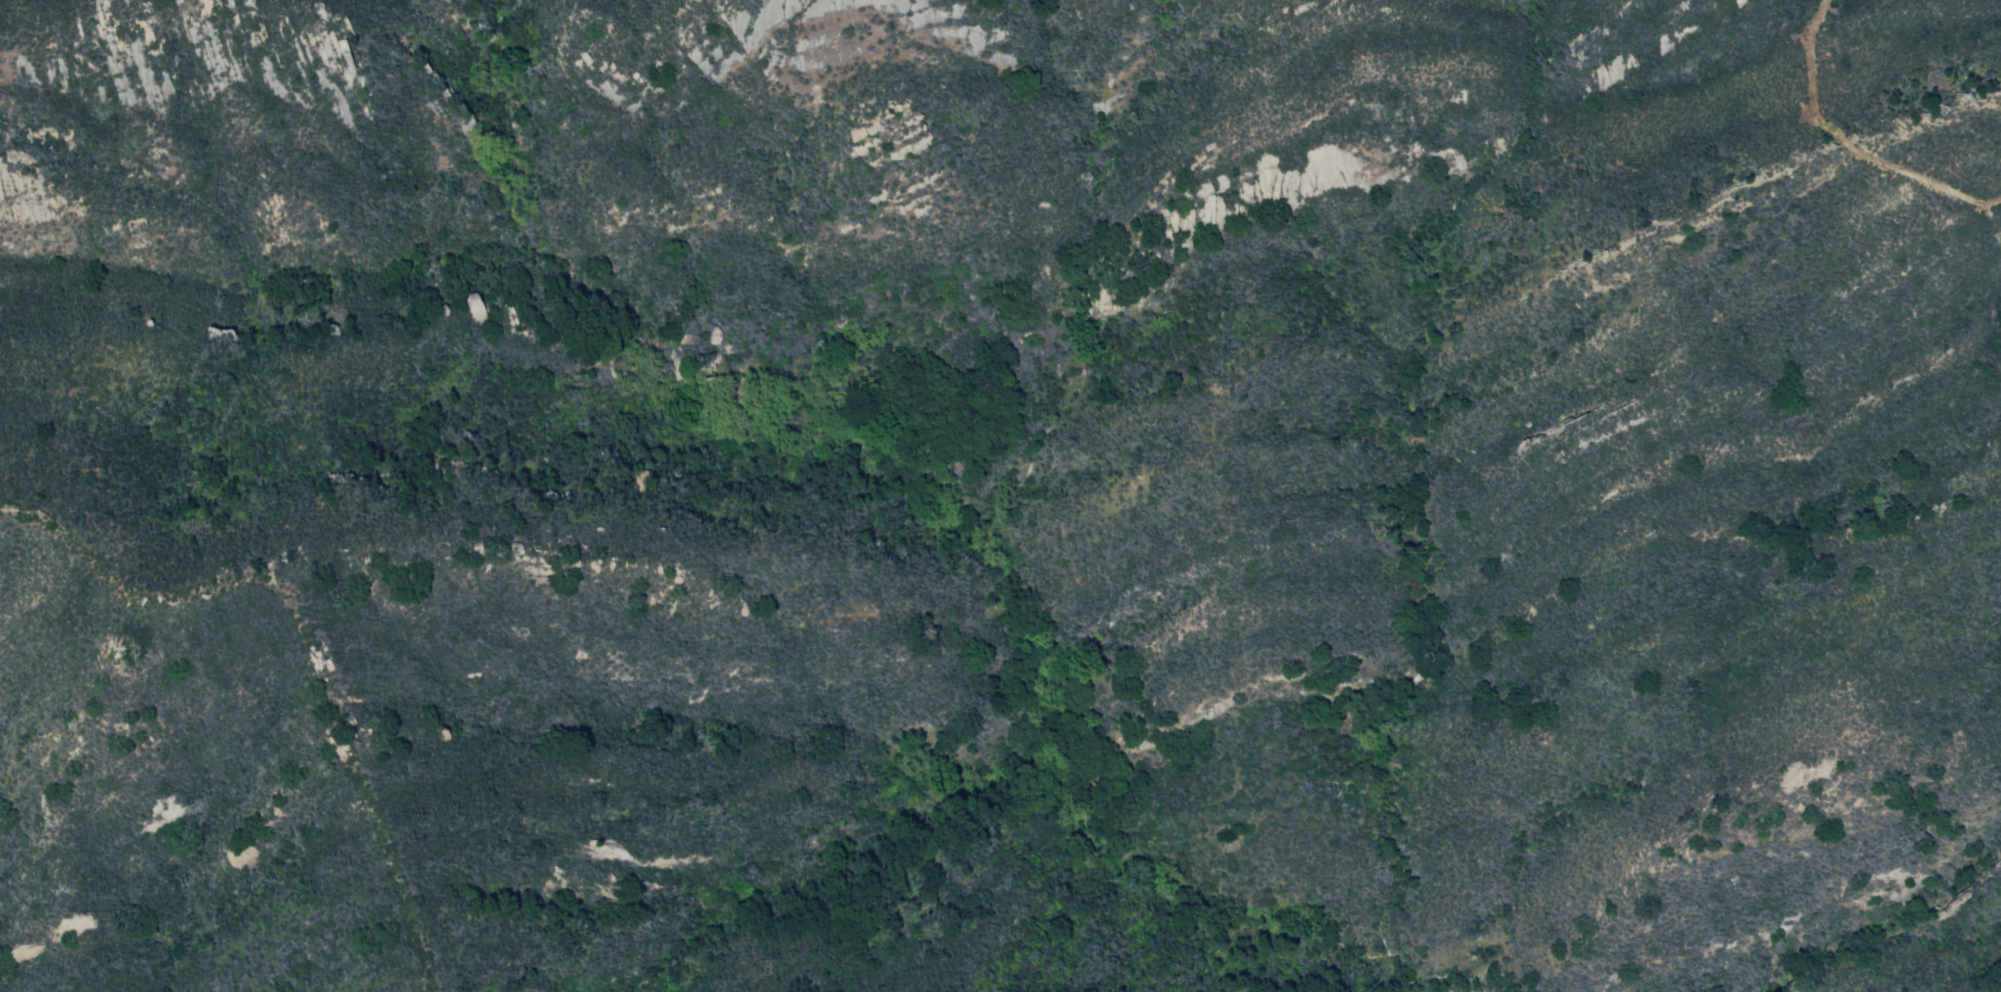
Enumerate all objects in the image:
road: (1857, 134)

